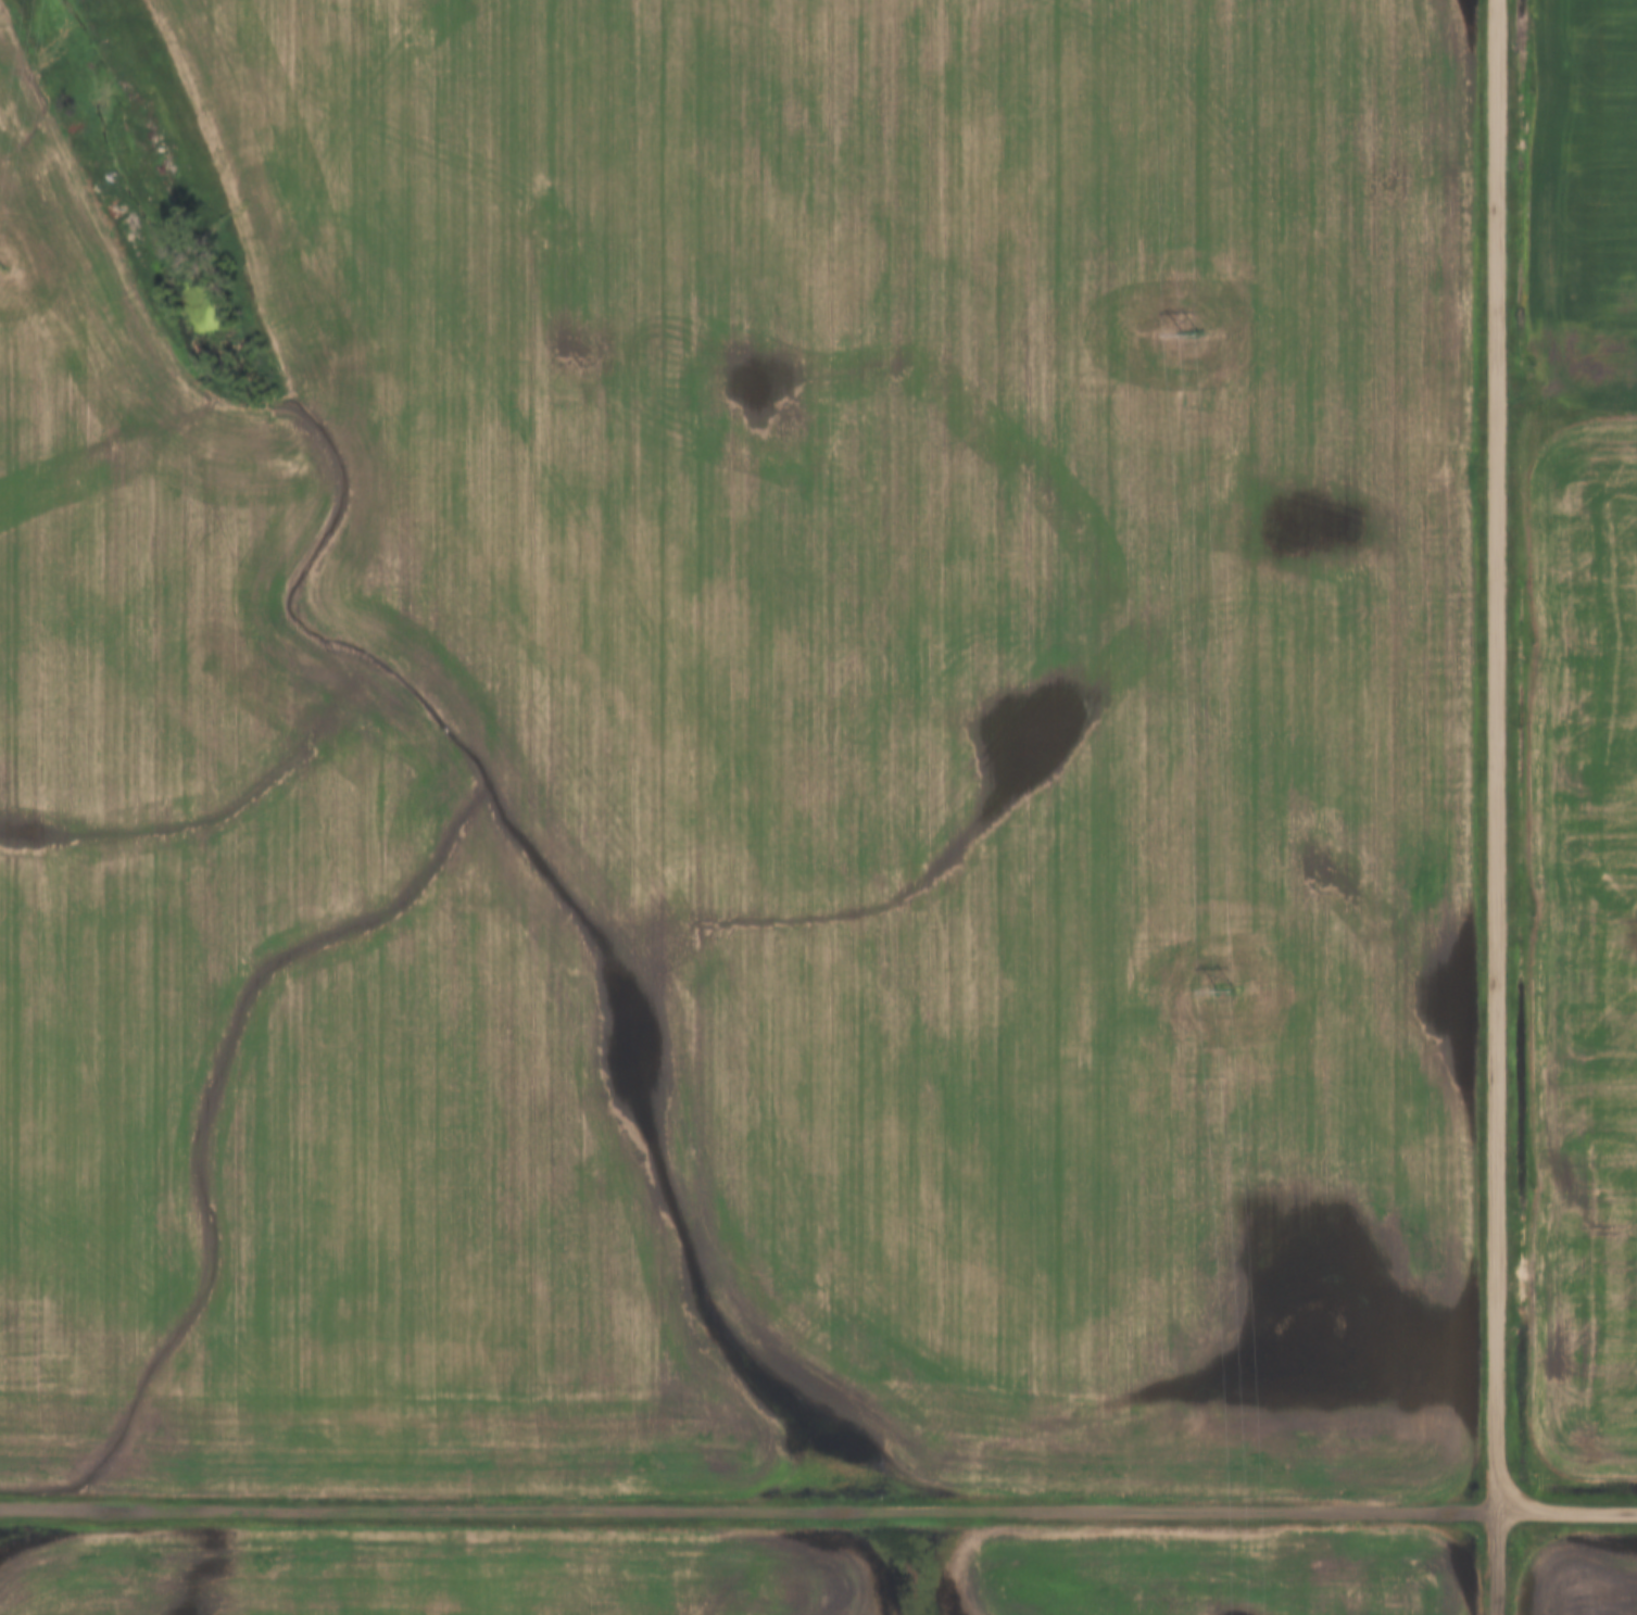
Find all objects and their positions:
power tower: (1191, 337)
road: (1495, 755)
power tower: (1226, 988)
road: (747, 1511)
road: (1565, 1512)
road: (1496, 1562)

